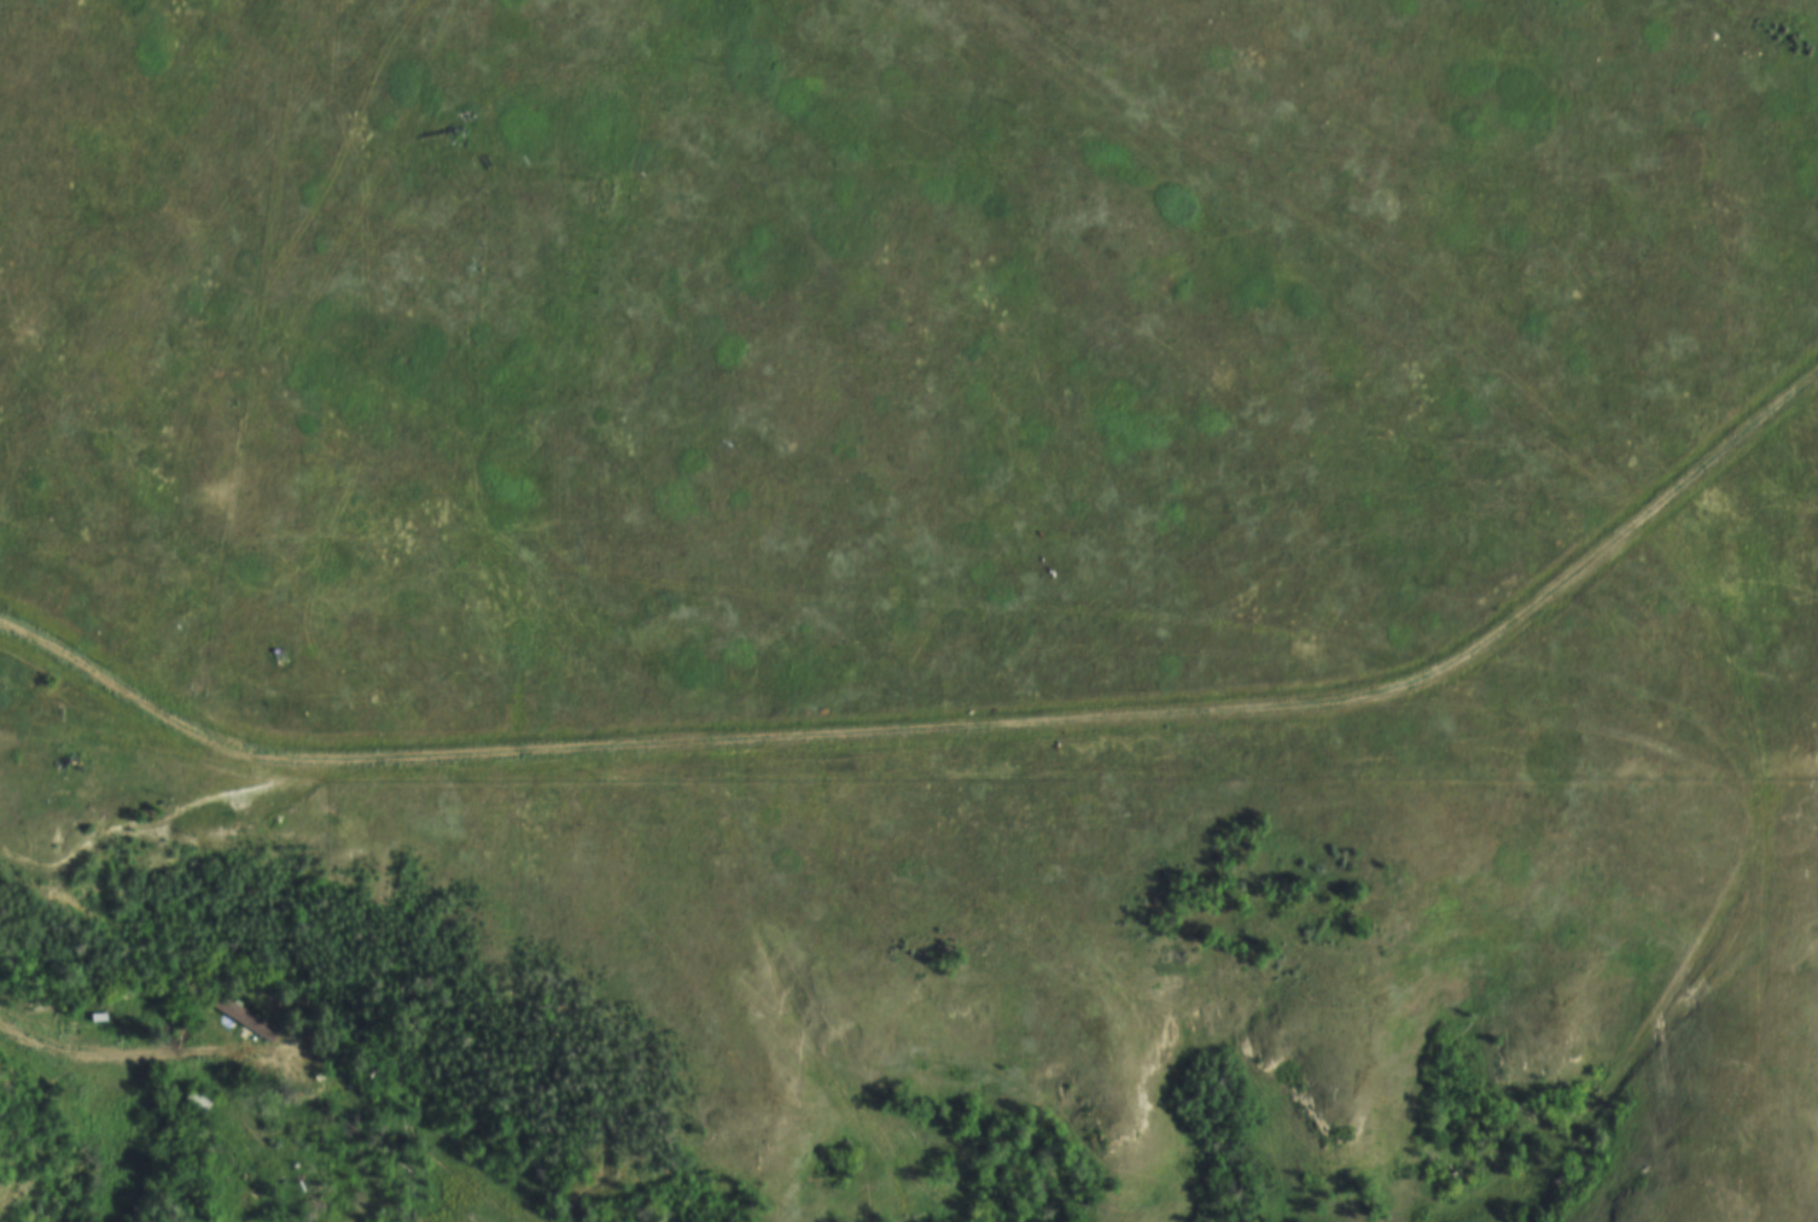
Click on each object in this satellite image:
road: (946, 735)
building: (239, 1013)
building: (92, 1019)
road: (157, 1077)
building: (196, 1095)
building: (191, 1104)

